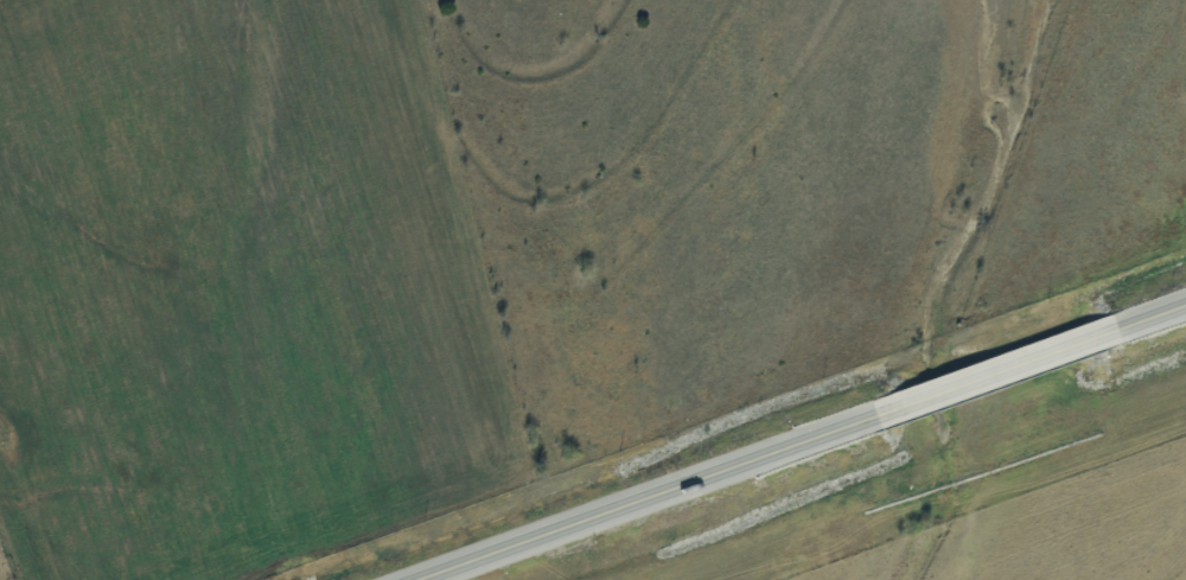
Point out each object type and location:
road: (1144, 313)
road: (990, 370)
road: (627, 496)

